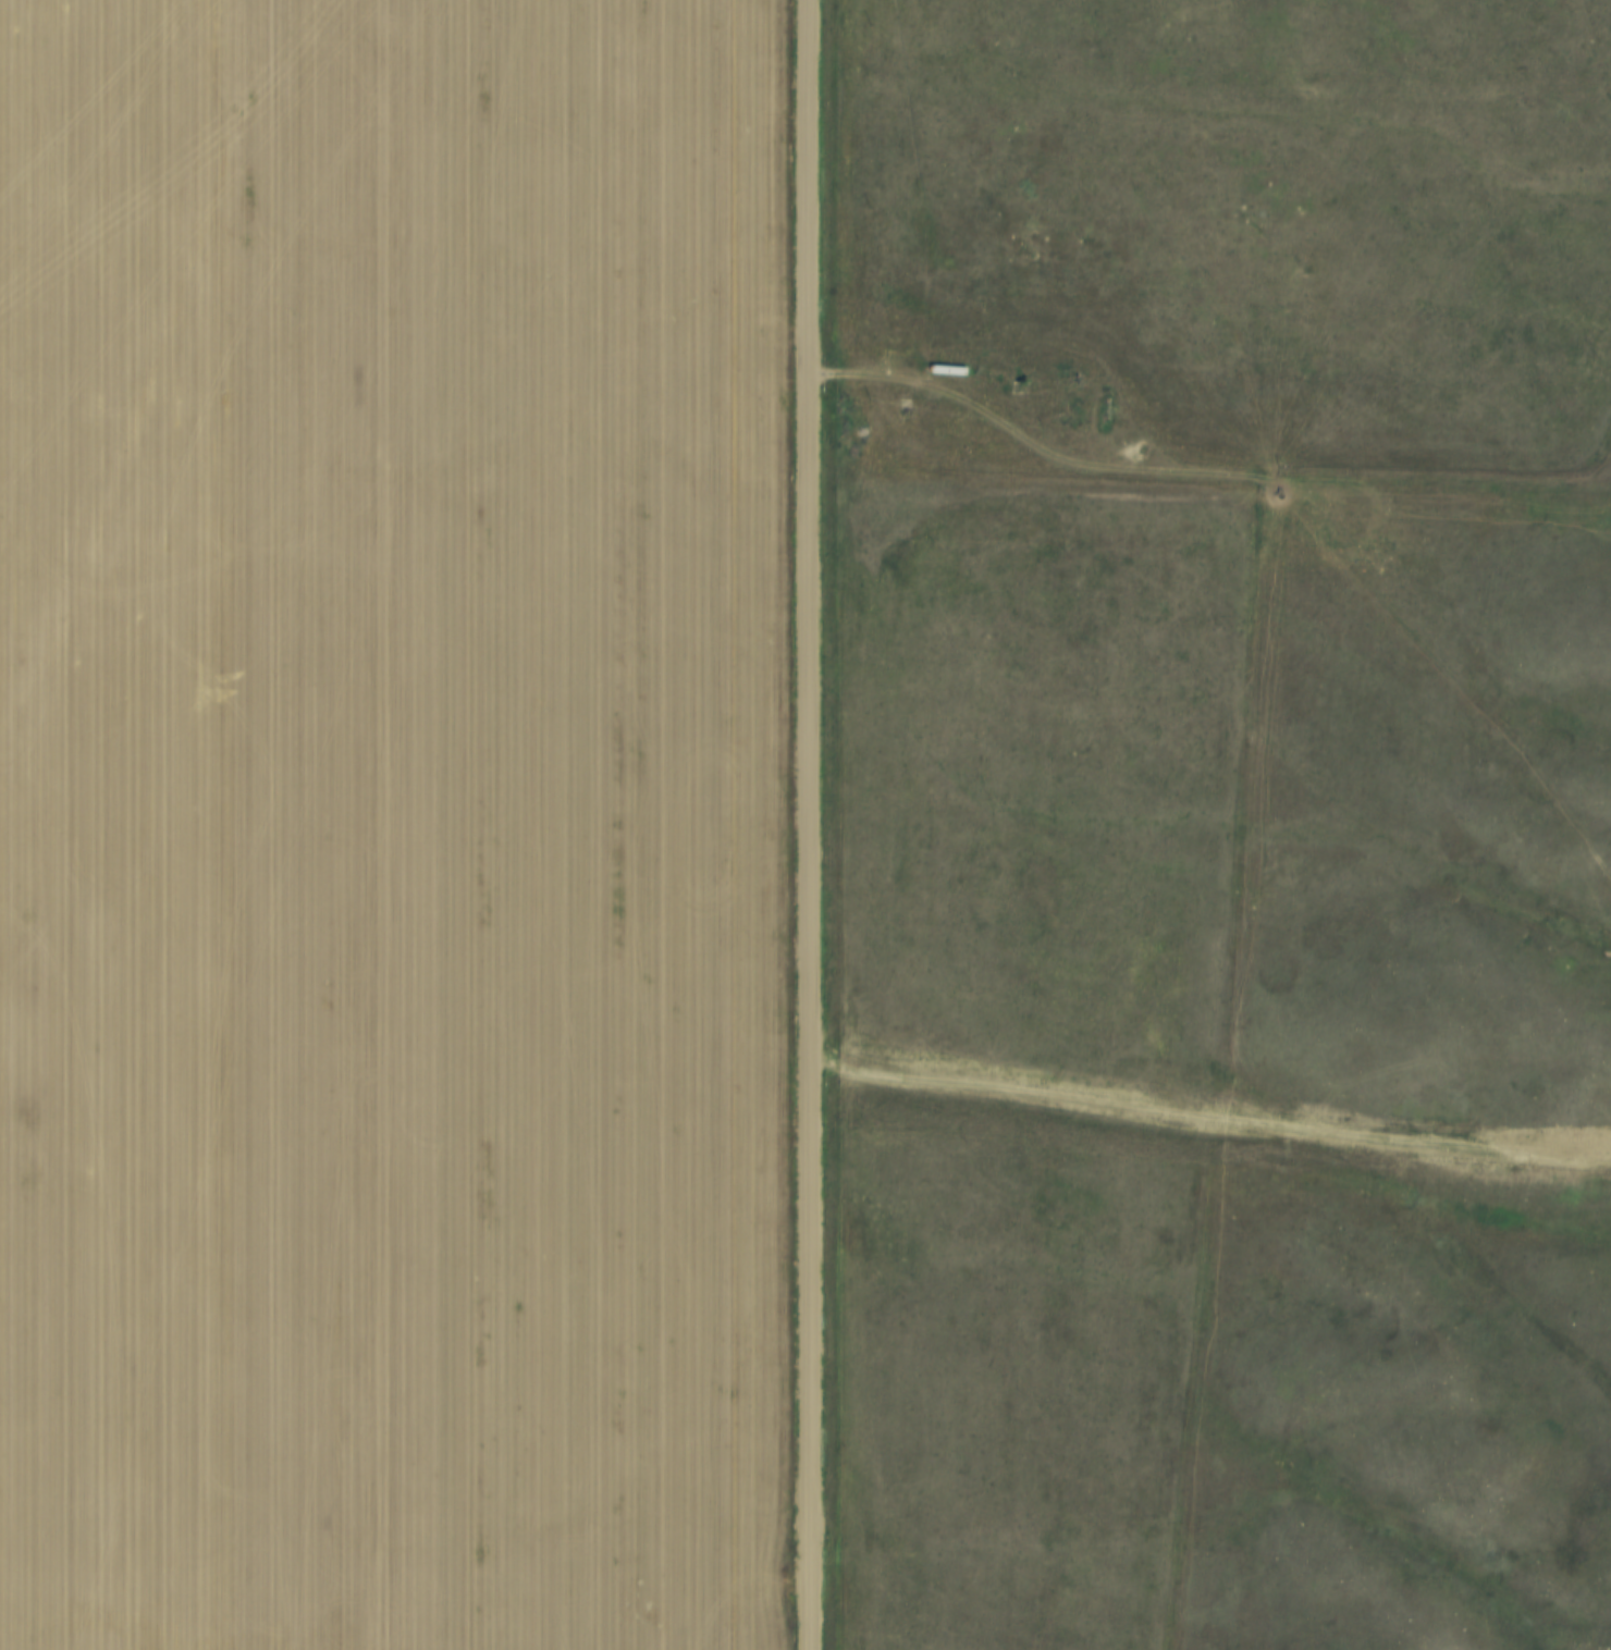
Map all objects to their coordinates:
road: (811, 825)

